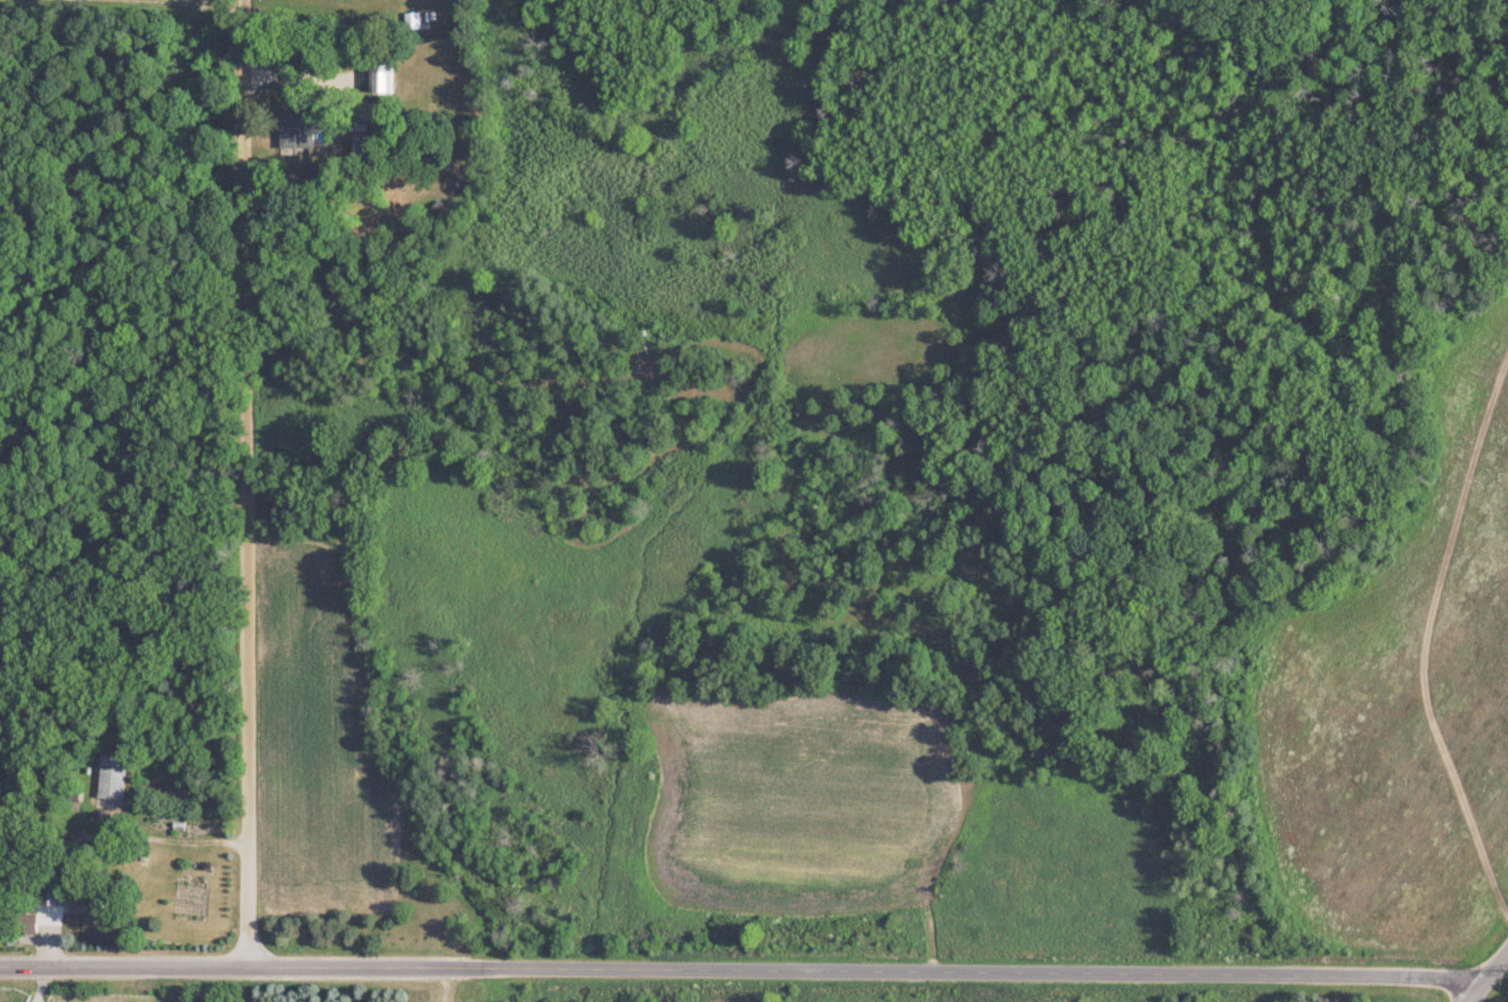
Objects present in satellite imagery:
building: (410, 23)
building: (380, 79)
road: (243, 482)
building: (108, 789)
road: (167, 836)
building: (89, 914)
building: (26, 929)
road: (738, 969)
road: (1485, 972)
road: (39, 983)

